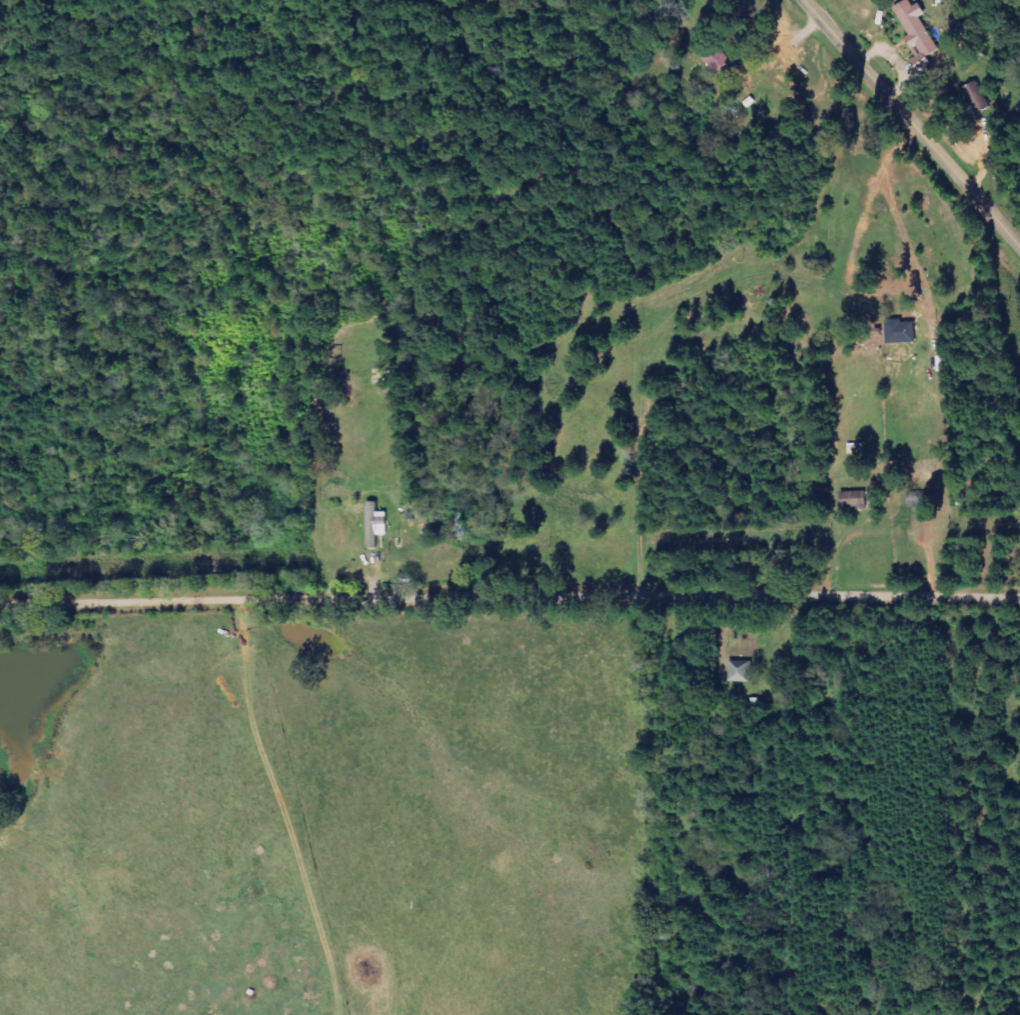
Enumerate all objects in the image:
building: (914, 26)
building: (720, 63)
building: (976, 97)
road: (911, 123)
road: (812, 306)
building: (900, 330)
building: (916, 499)
building: (853, 500)
building: (374, 524)
road: (962, 525)
road: (889, 528)
road: (916, 570)
road: (1006, 570)
road: (859, 612)
road: (510, 620)
building: (740, 673)

